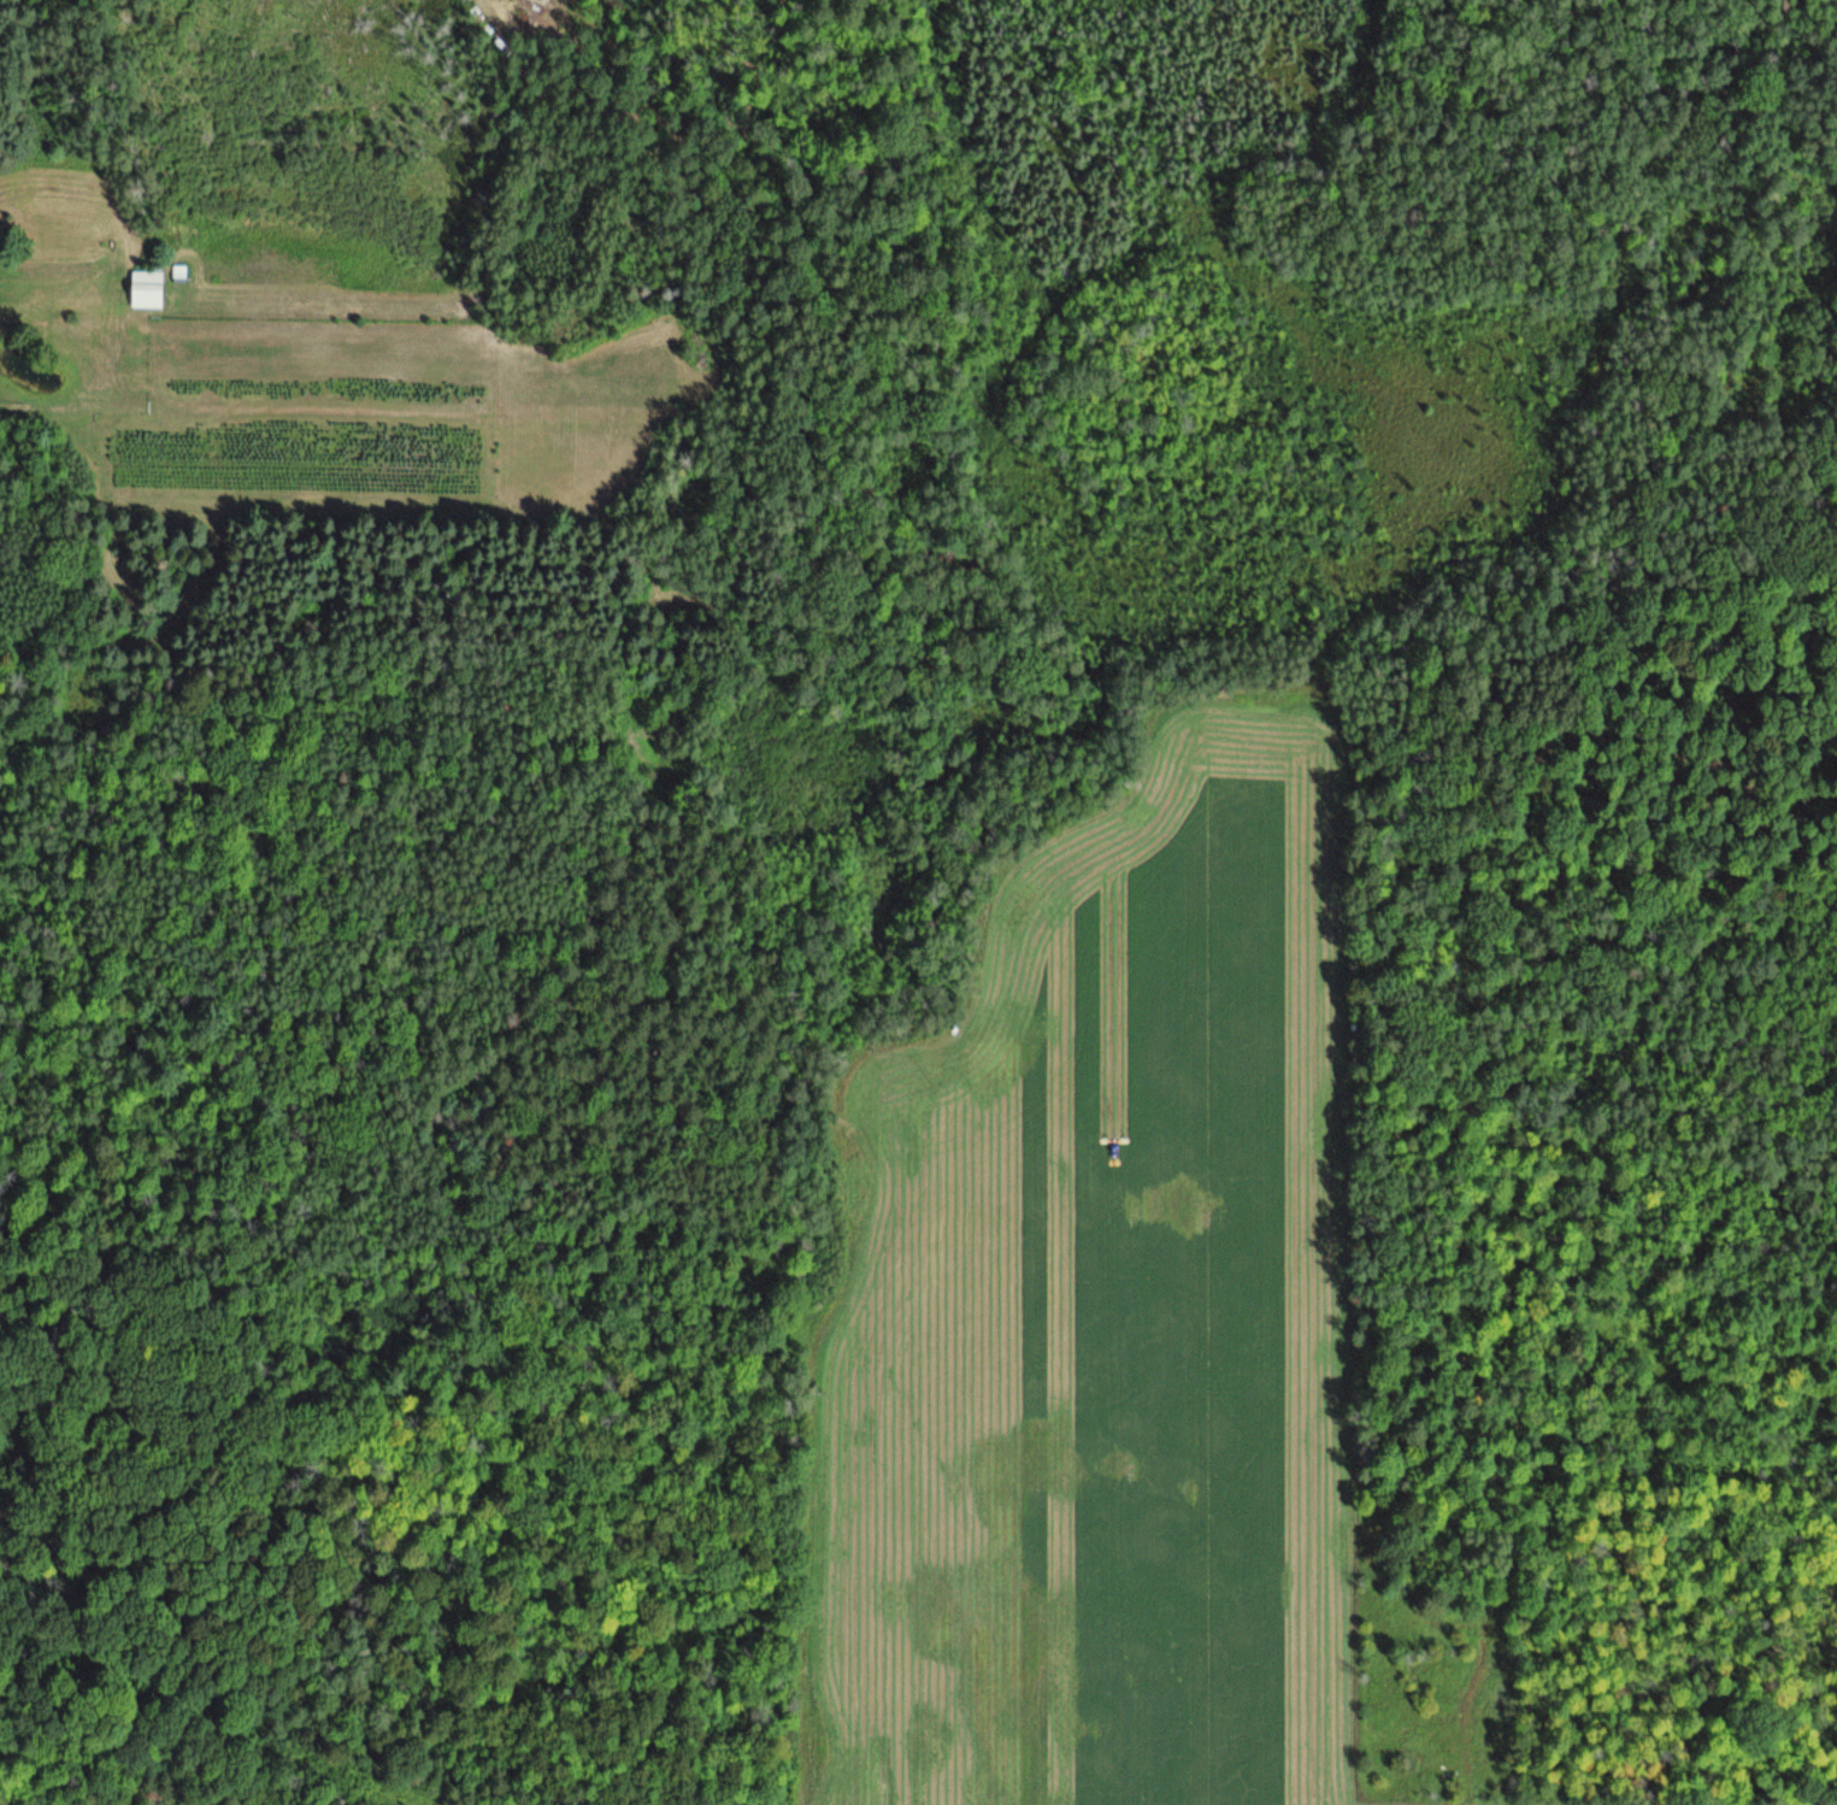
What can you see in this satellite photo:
building: (146, 288)

